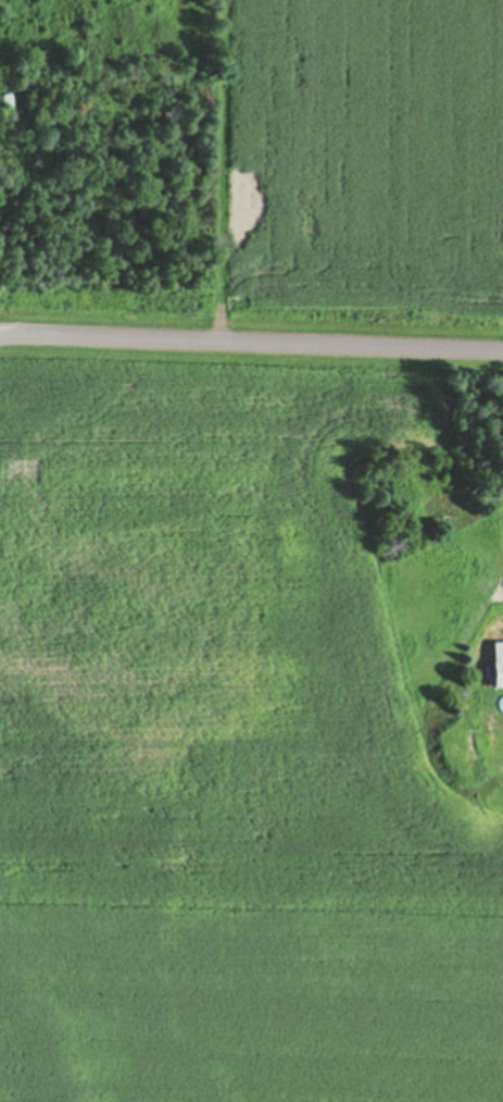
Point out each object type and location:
road: (251, 345)
building: (499, 676)

